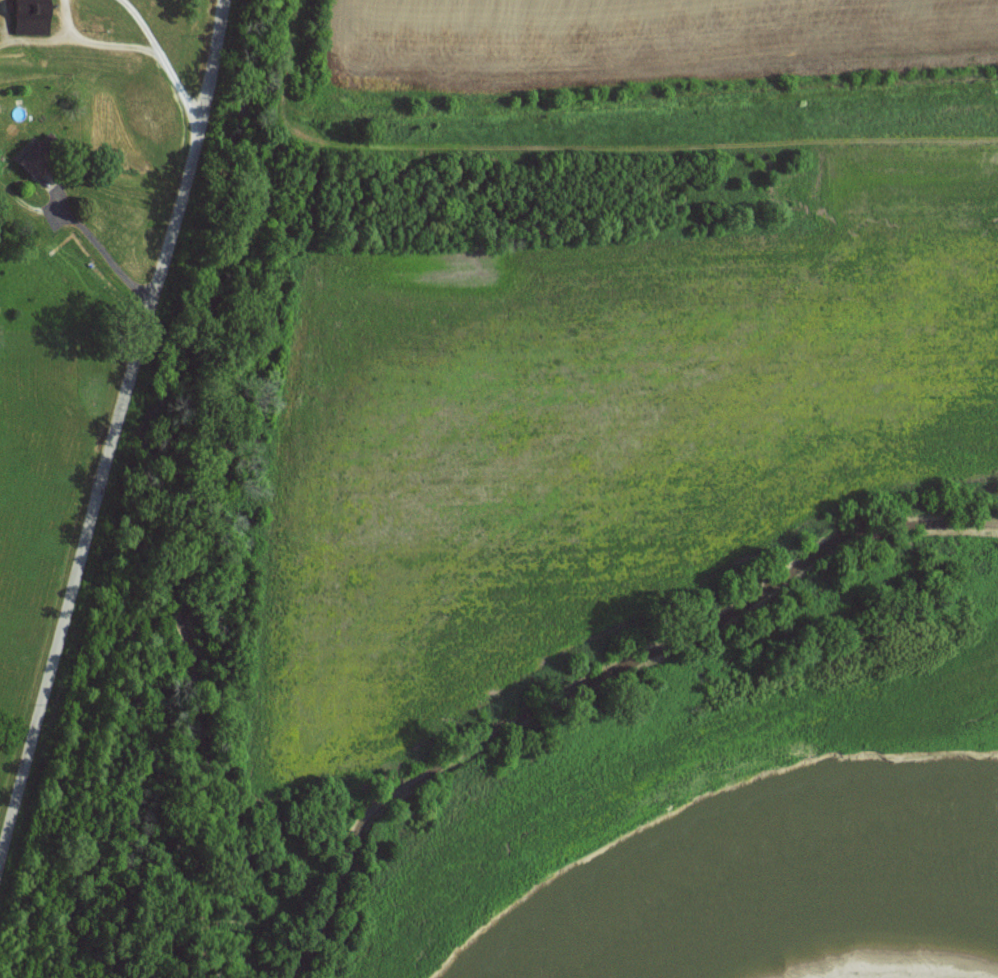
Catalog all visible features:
road: (161, 59)
road: (86, 230)
road: (540, 231)
road: (118, 426)
river: (877, 972)

